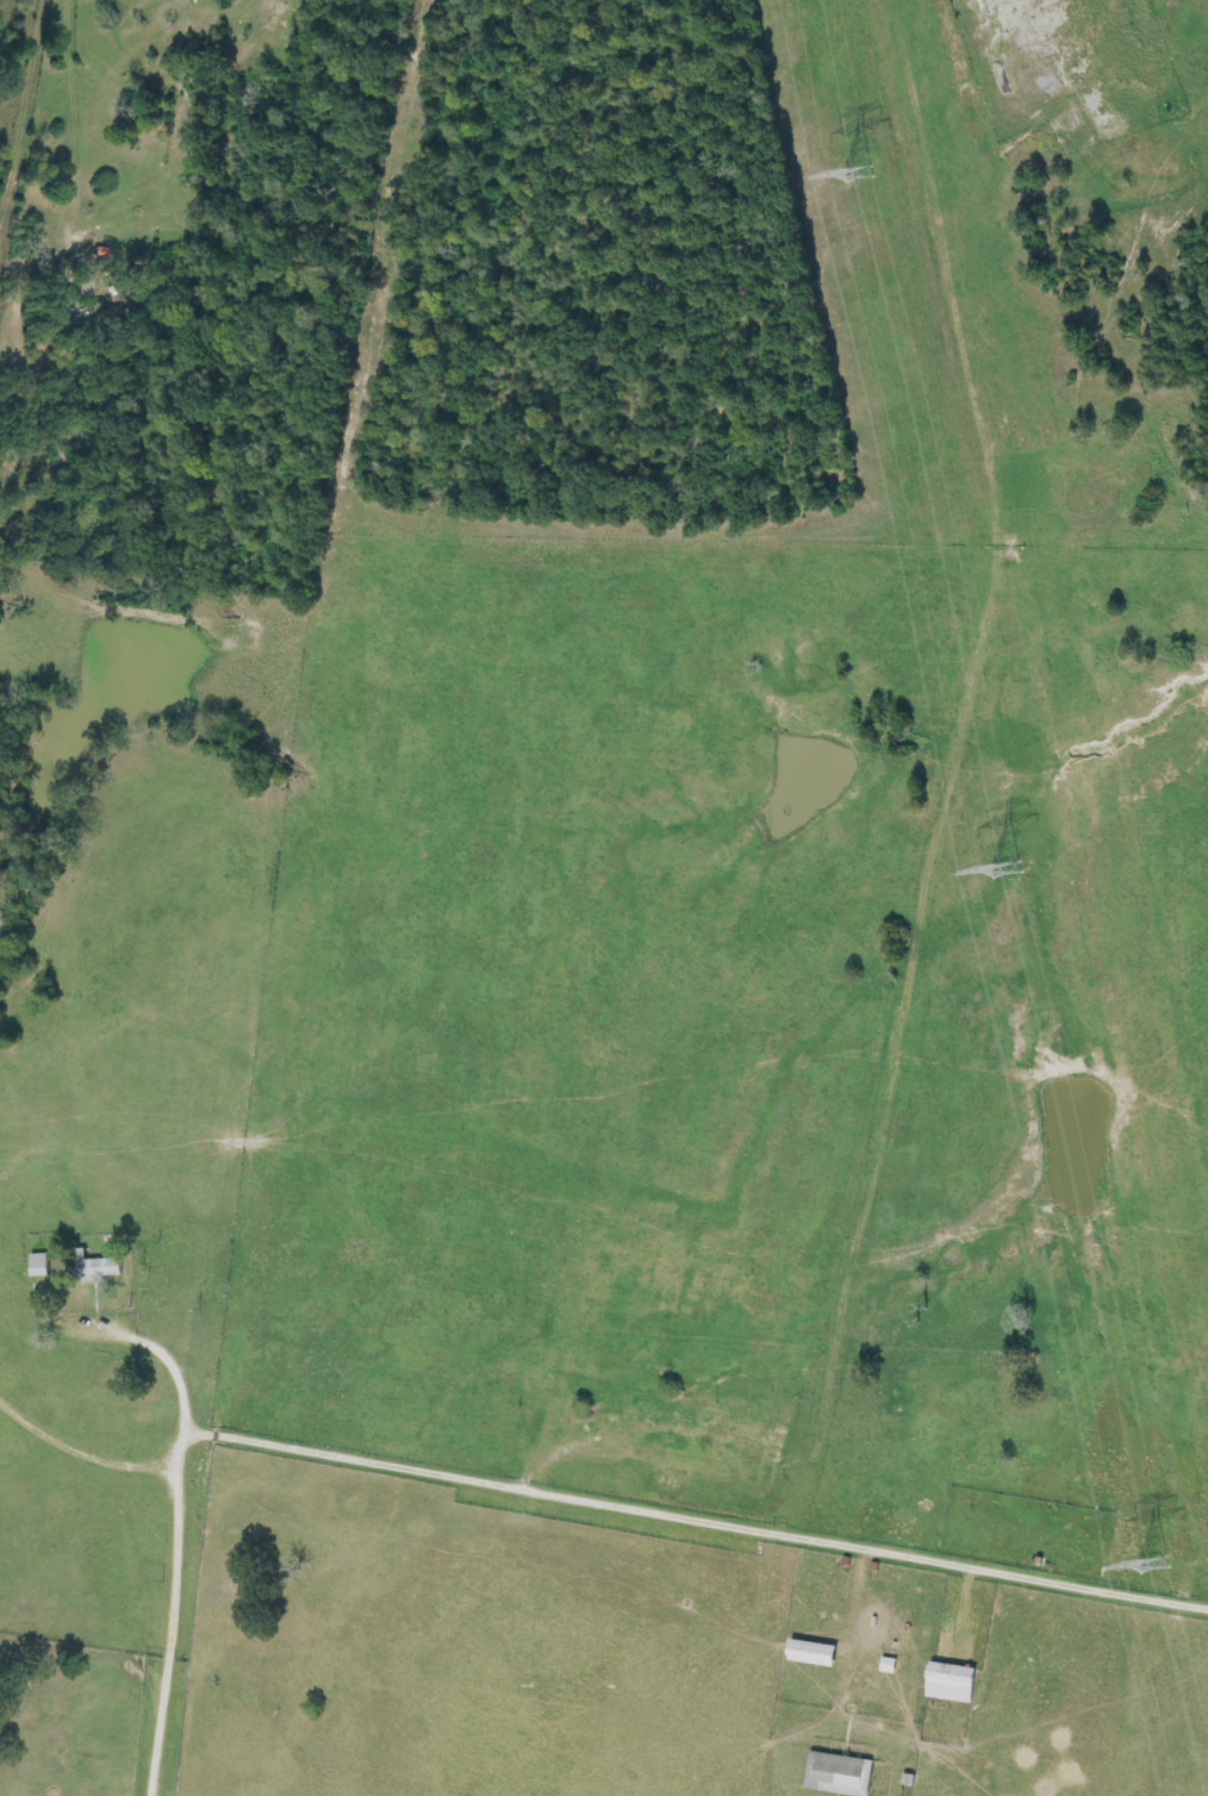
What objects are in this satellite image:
power tower: (851, 176)
railway: (1086, 573)
power tower: (1001, 872)
building: (39, 1266)
building: (98, 1268)
road: (76, 1423)
road: (143, 1548)
power tower: (1146, 1565)
building: (815, 1654)
building: (952, 1683)
building: (839, 1775)

